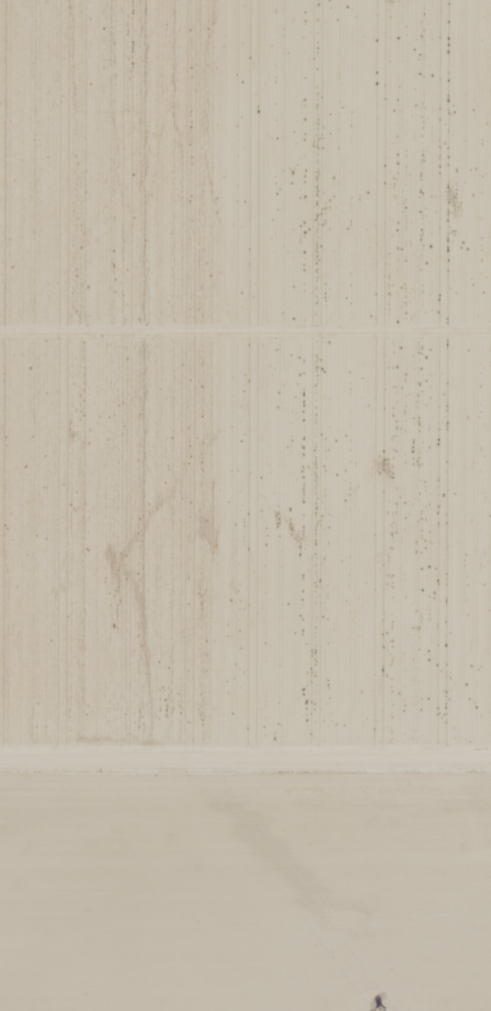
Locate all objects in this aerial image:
crop: (245, 377)
road: (245, 767)

